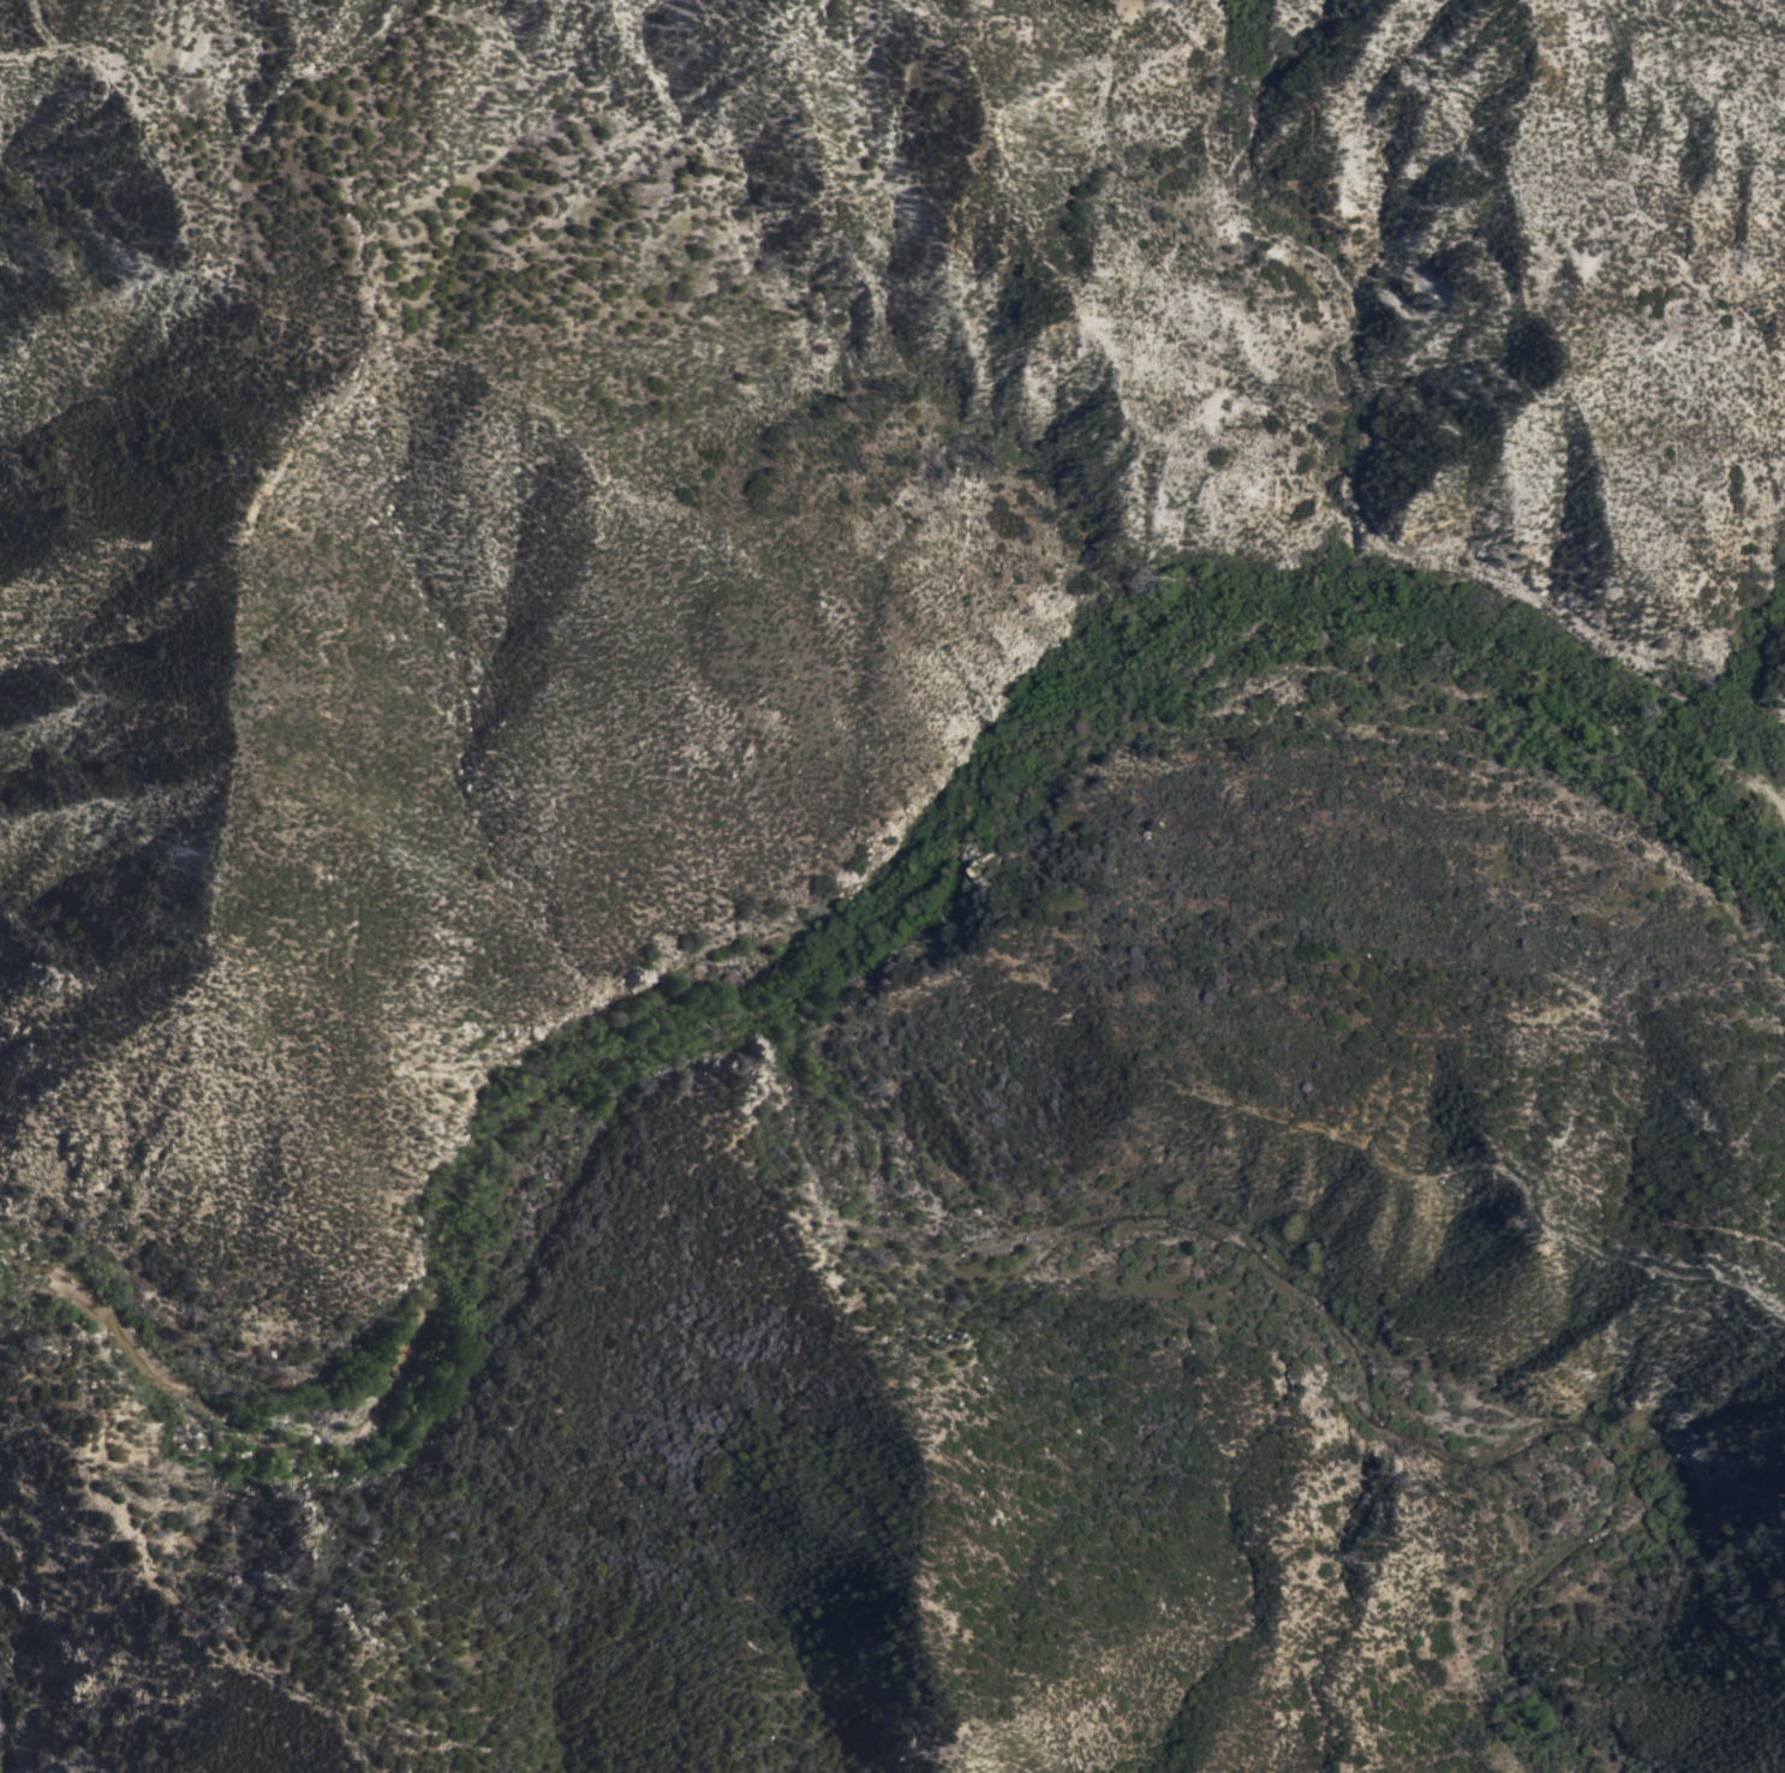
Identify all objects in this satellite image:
river: (858, 923)

